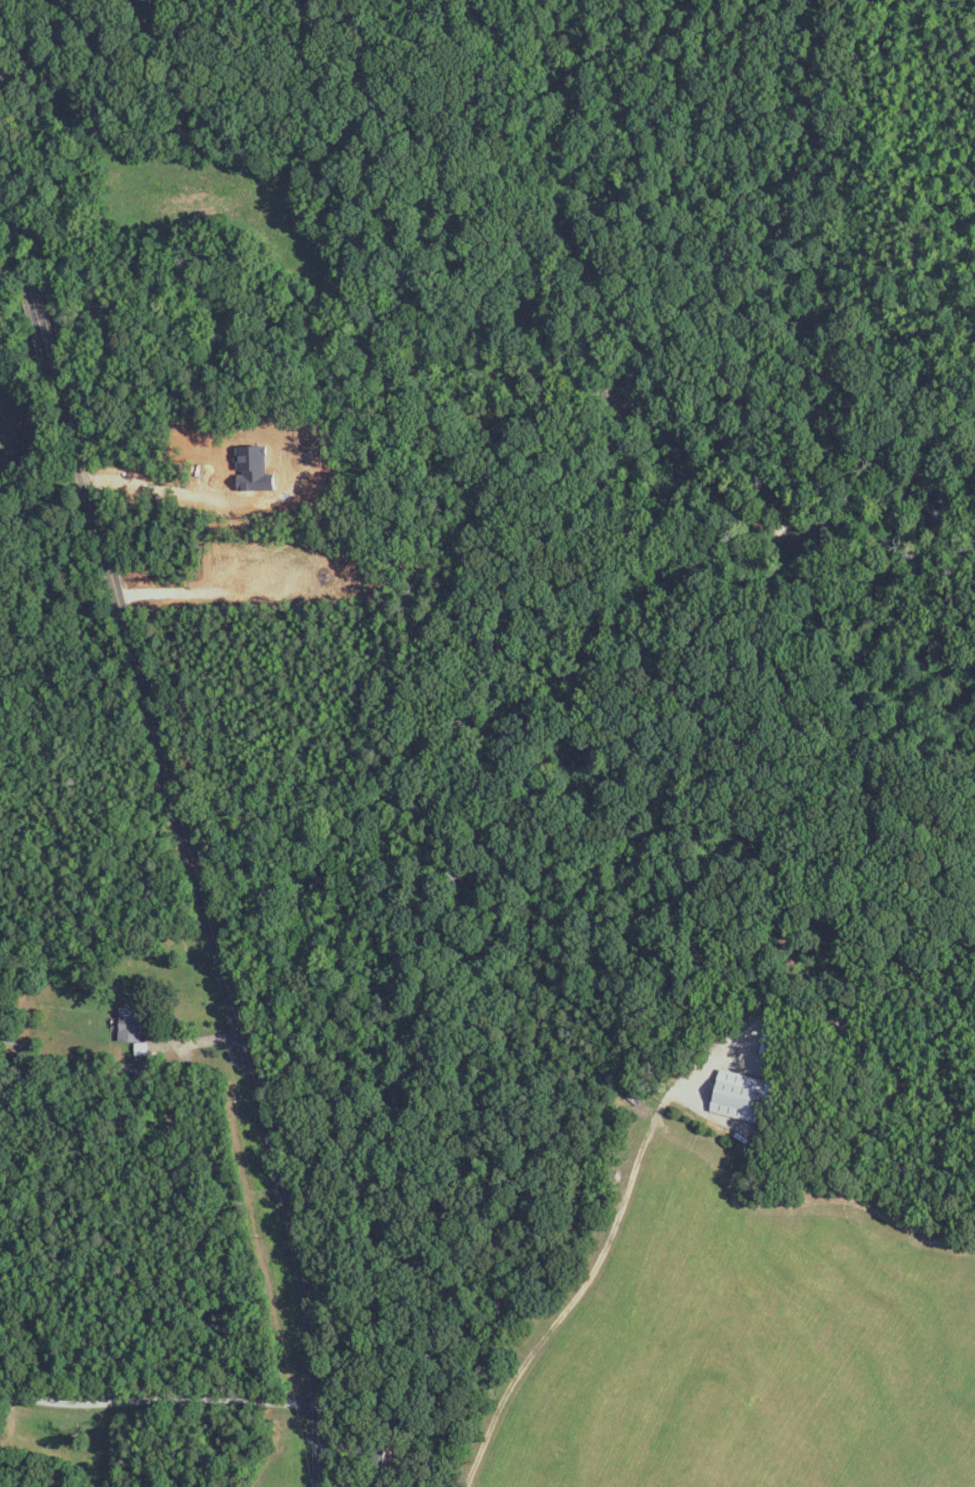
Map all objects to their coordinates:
building: (149, 6)
road: (164, 590)
road: (179, 826)
building: (131, 1025)
building: (739, 1097)
road: (568, 1300)
road: (158, 1400)

